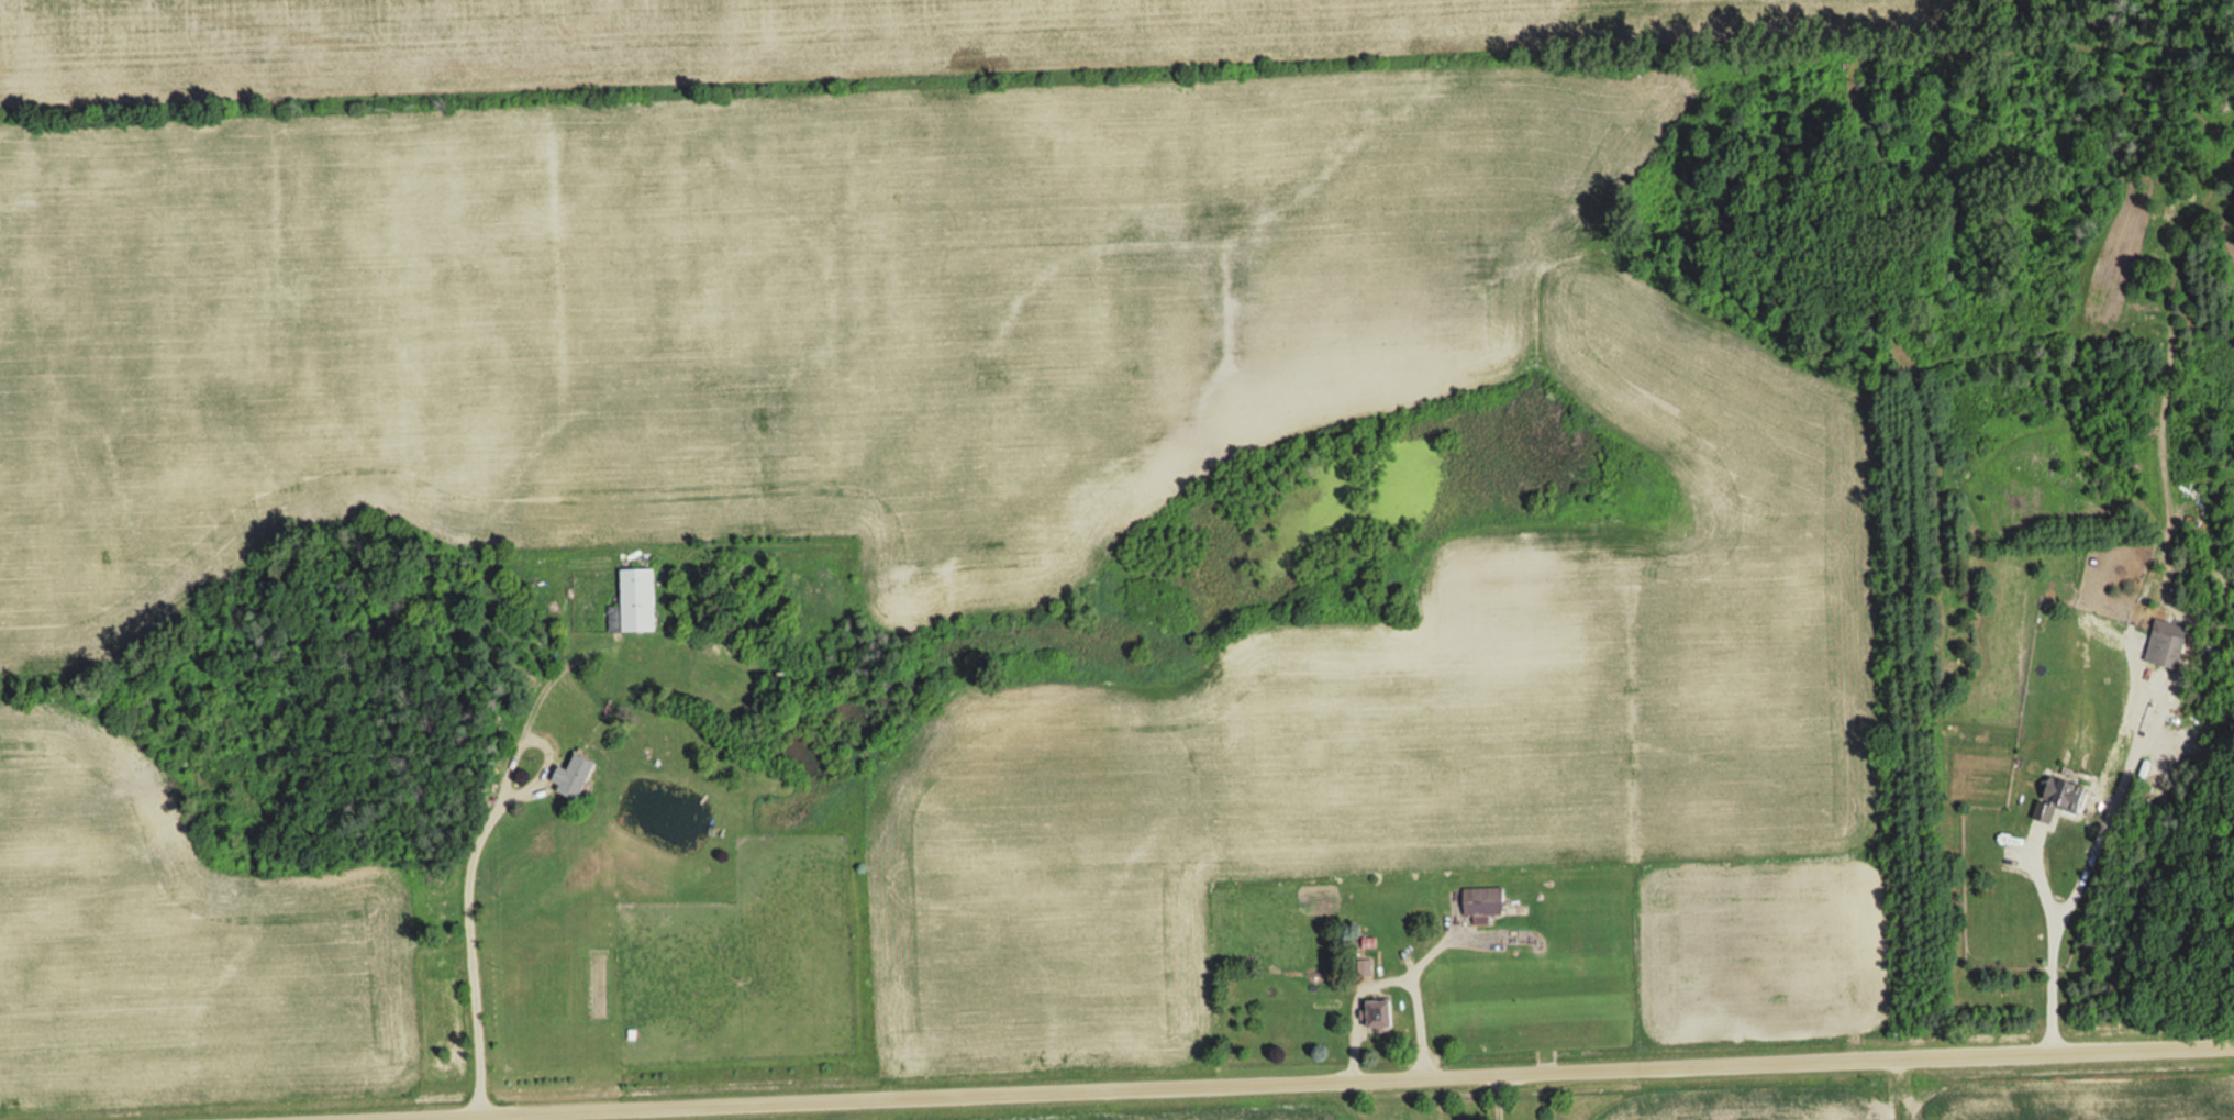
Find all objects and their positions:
building: (637, 601)
building: (2168, 648)
building: (580, 776)
building: (2066, 797)
building: (1487, 901)
building: (1386, 1014)
road: (1265, 1083)

